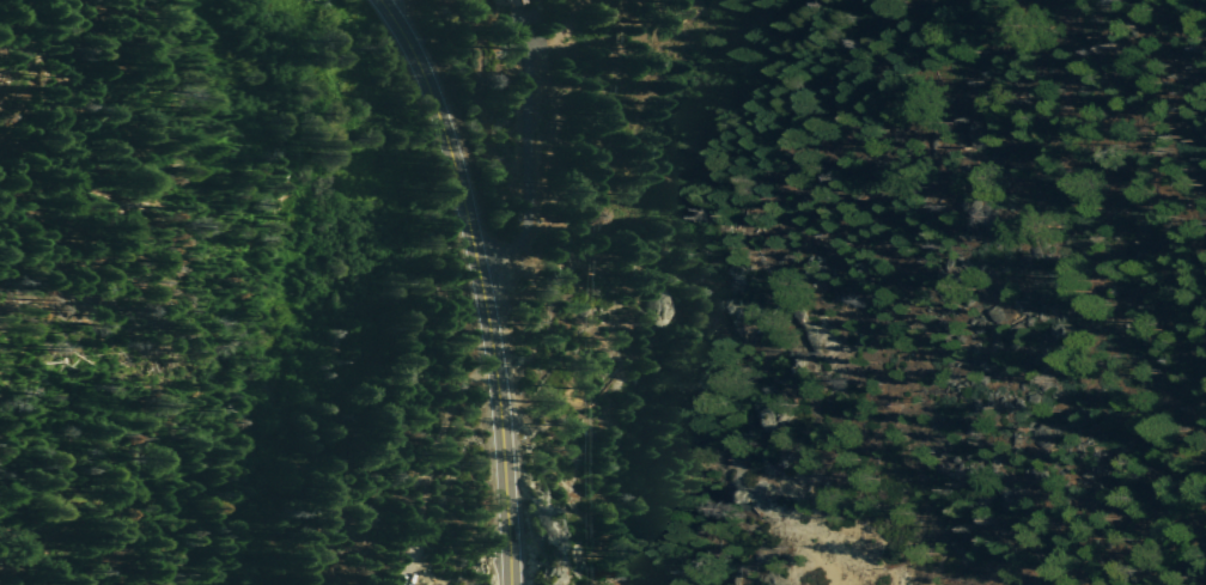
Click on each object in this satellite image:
building: (499, 1)
road: (520, 32)
road: (30, 126)
road: (528, 172)
road: (480, 284)
road: (16, 370)
road: (432, 463)
road: (1199, 548)
road: (1188, 552)

